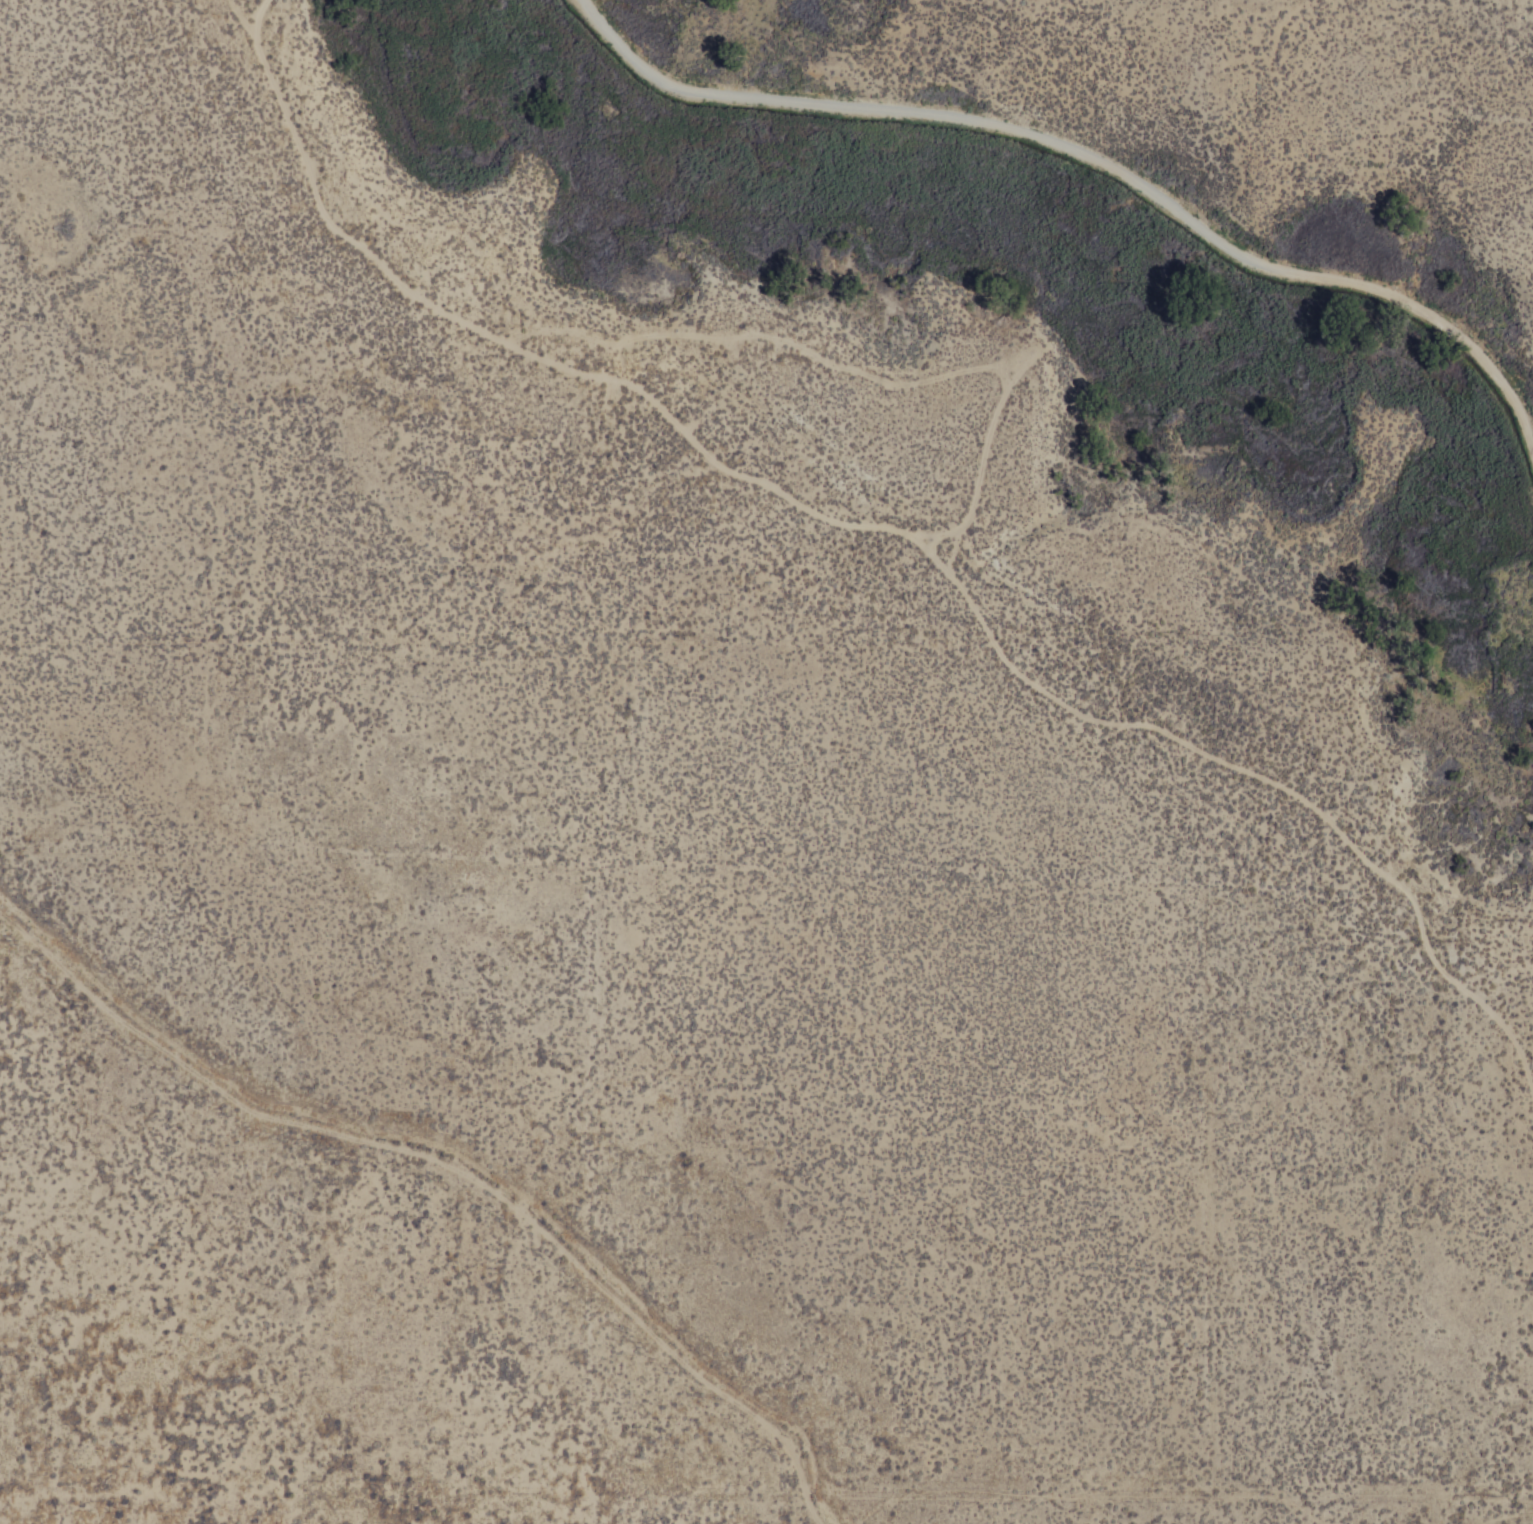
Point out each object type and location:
road: (1093, 159)
road: (920, 380)
road: (884, 527)
road: (450, 1169)

